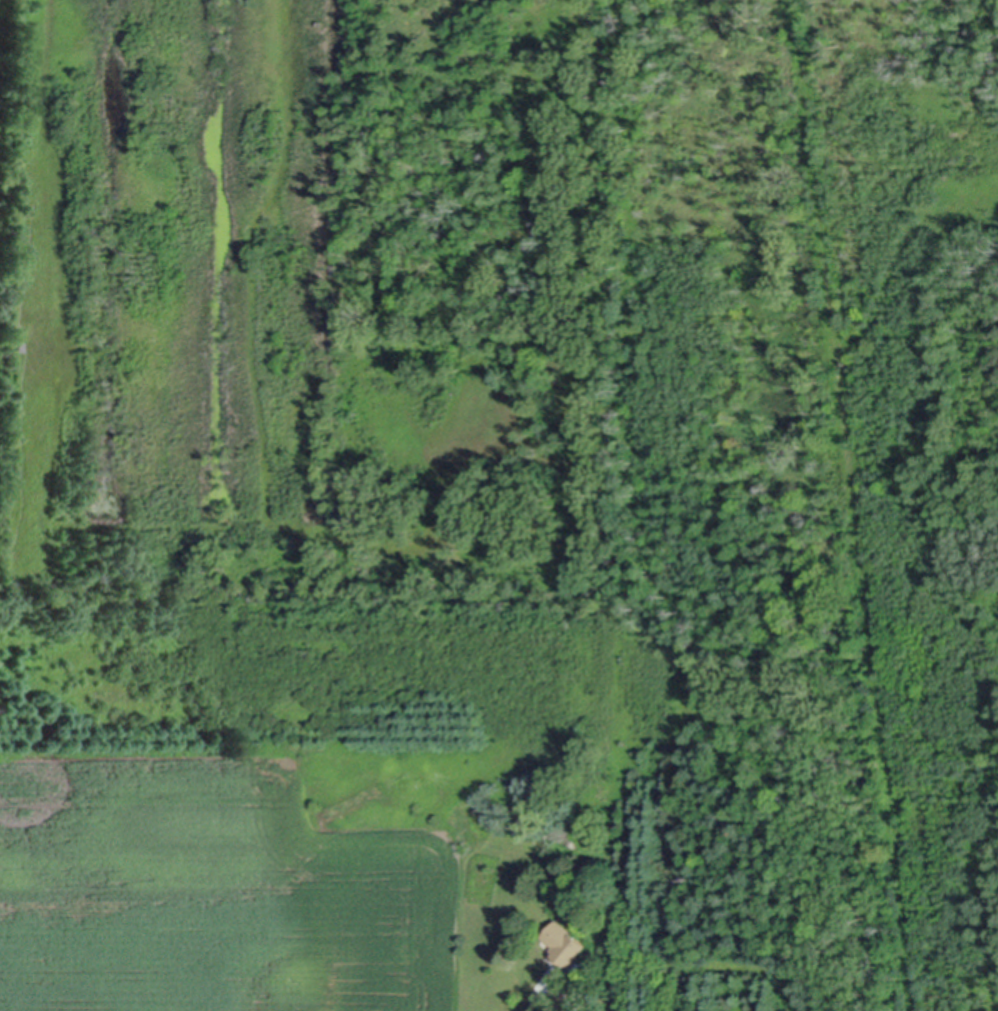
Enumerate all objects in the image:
building: (561, 941)
road: (555, 993)

